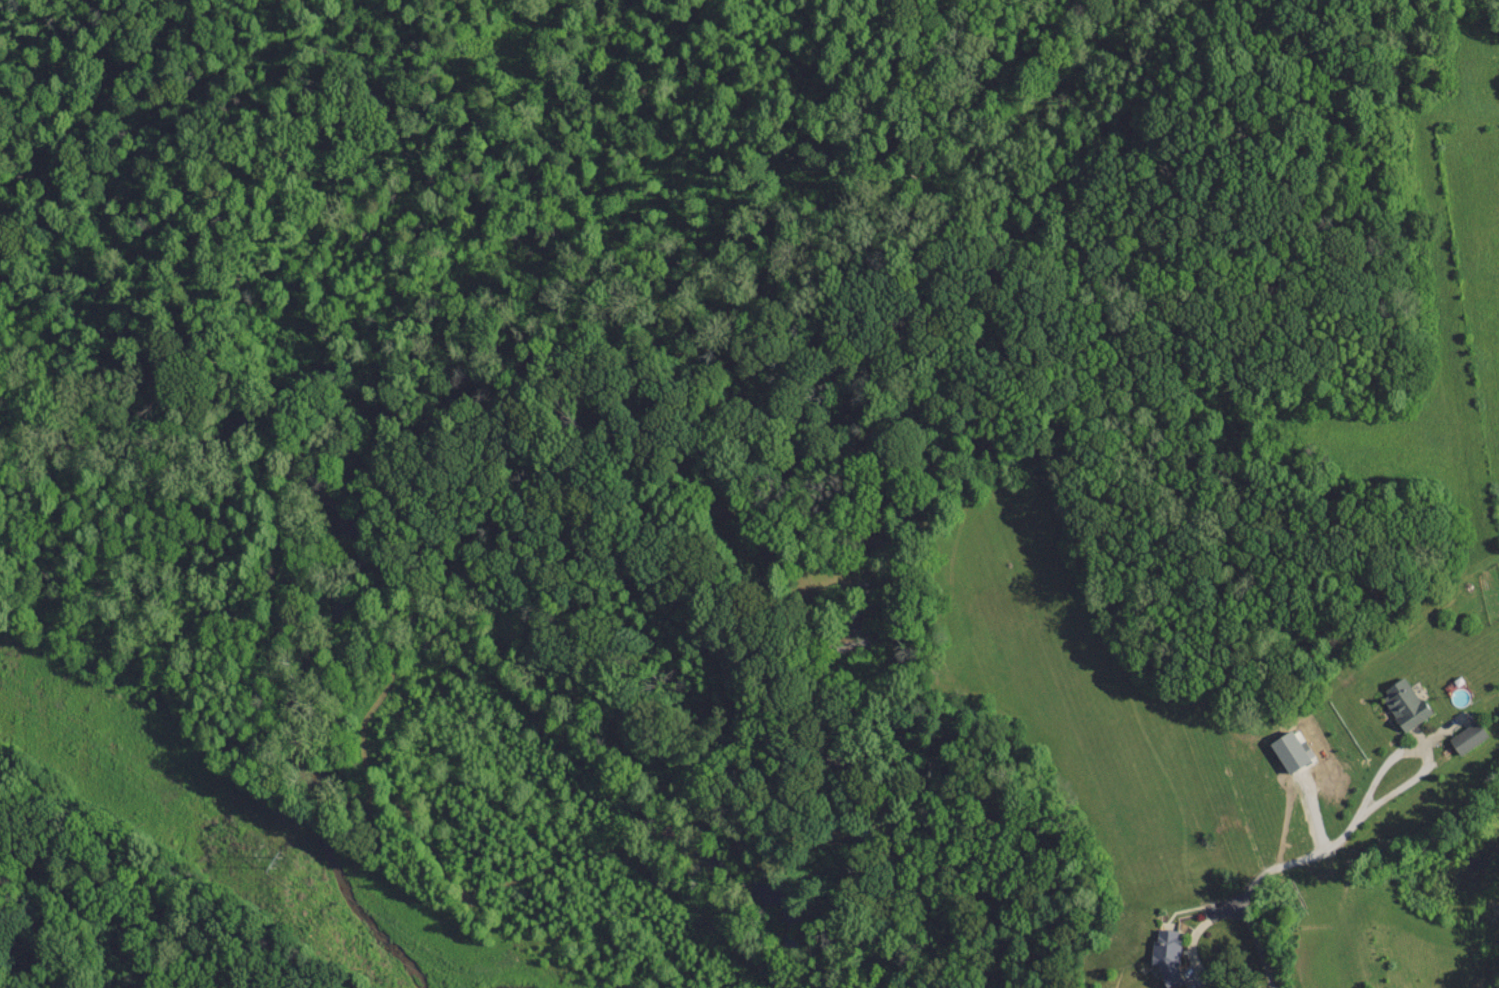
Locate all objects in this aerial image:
building: (1402, 703)
building: (1466, 737)
power tower: (273, 858)
road: (1262, 947)
building: (1164, 954)

